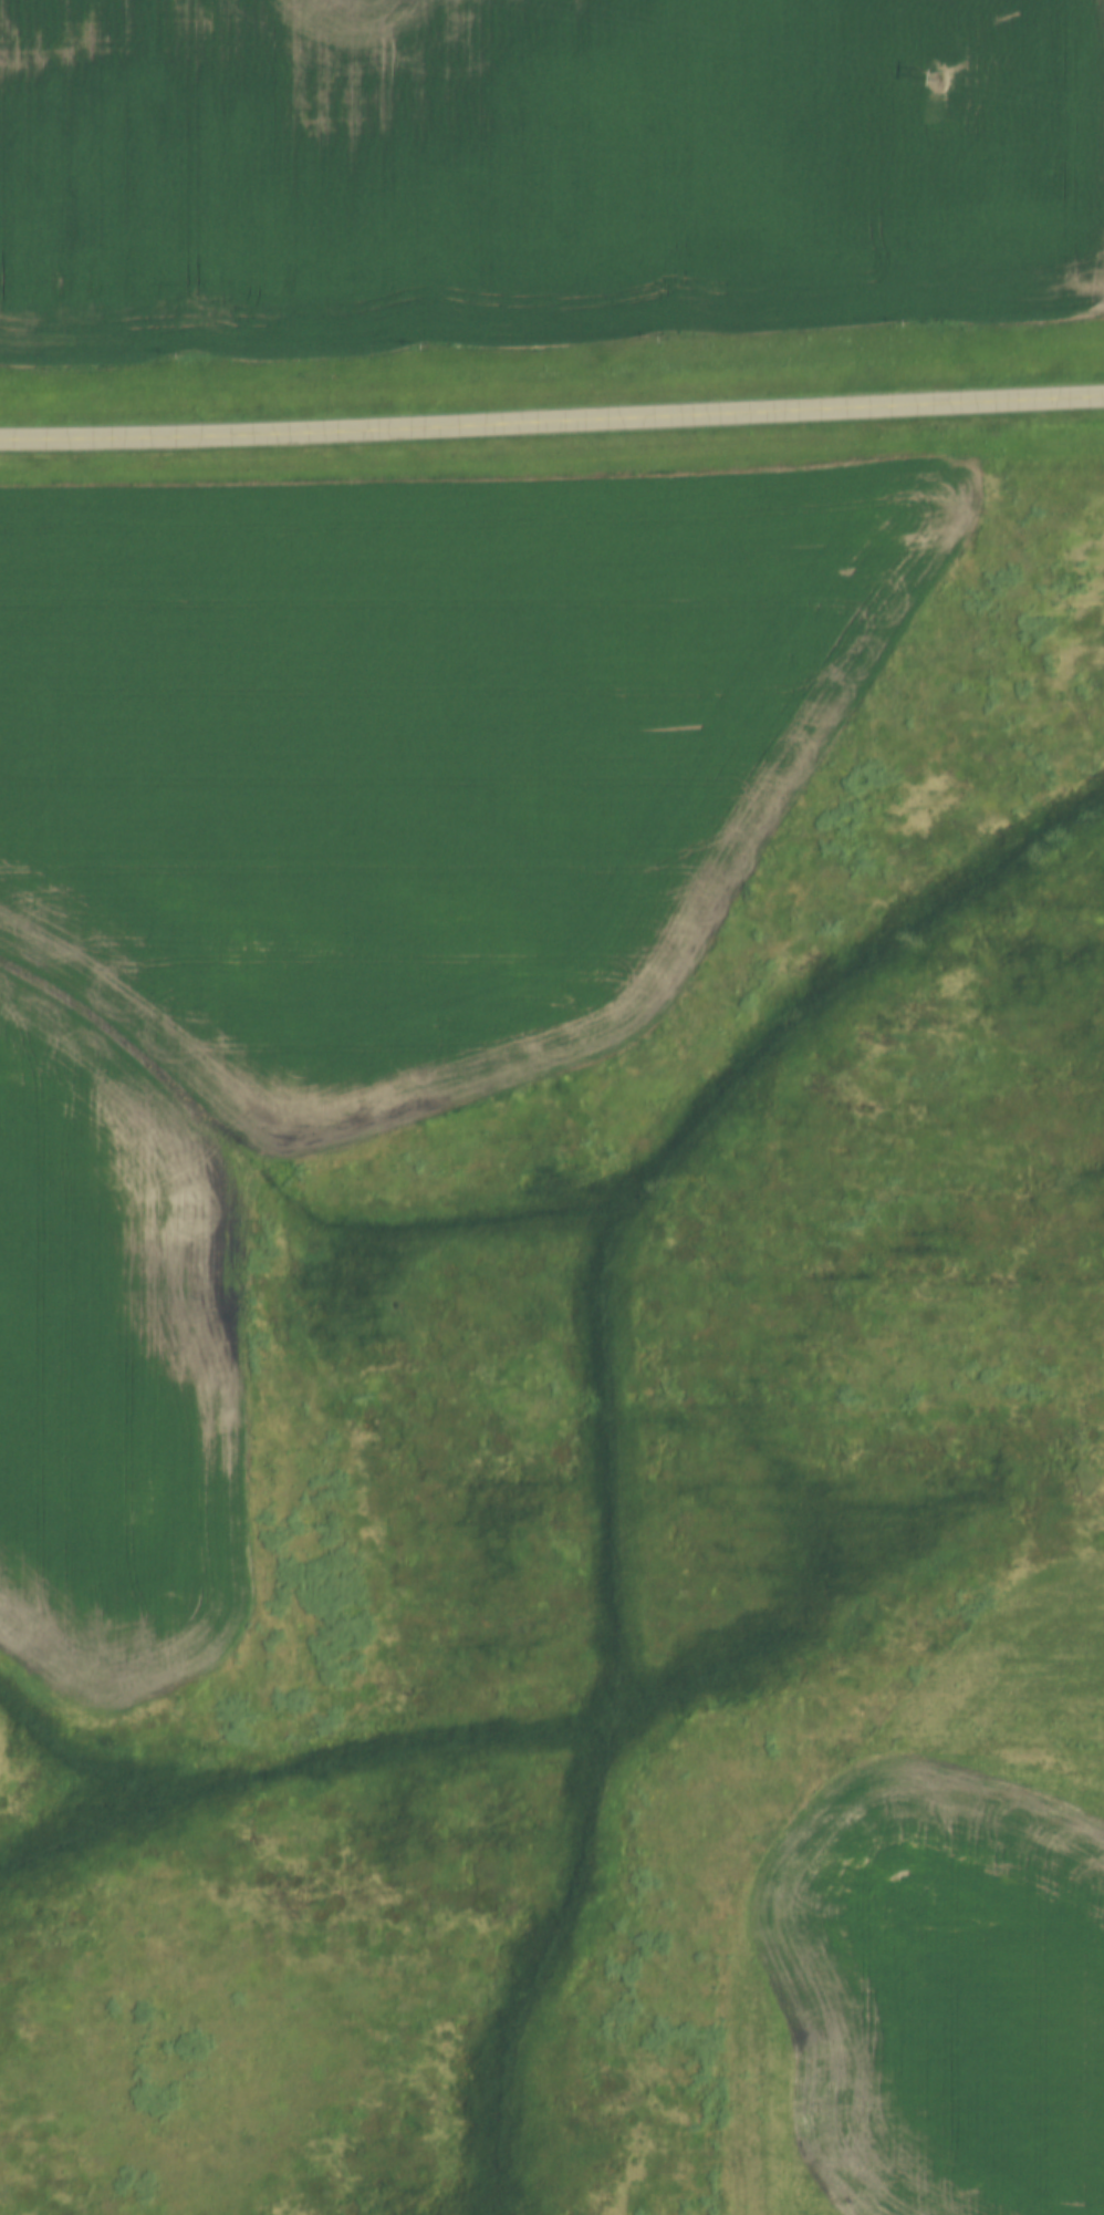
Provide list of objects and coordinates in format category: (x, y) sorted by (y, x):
power tower: (937, 75)
crop: (528, 172)
road: (552, 423)
crop: (345, 907)
crop: (935, 1944)

